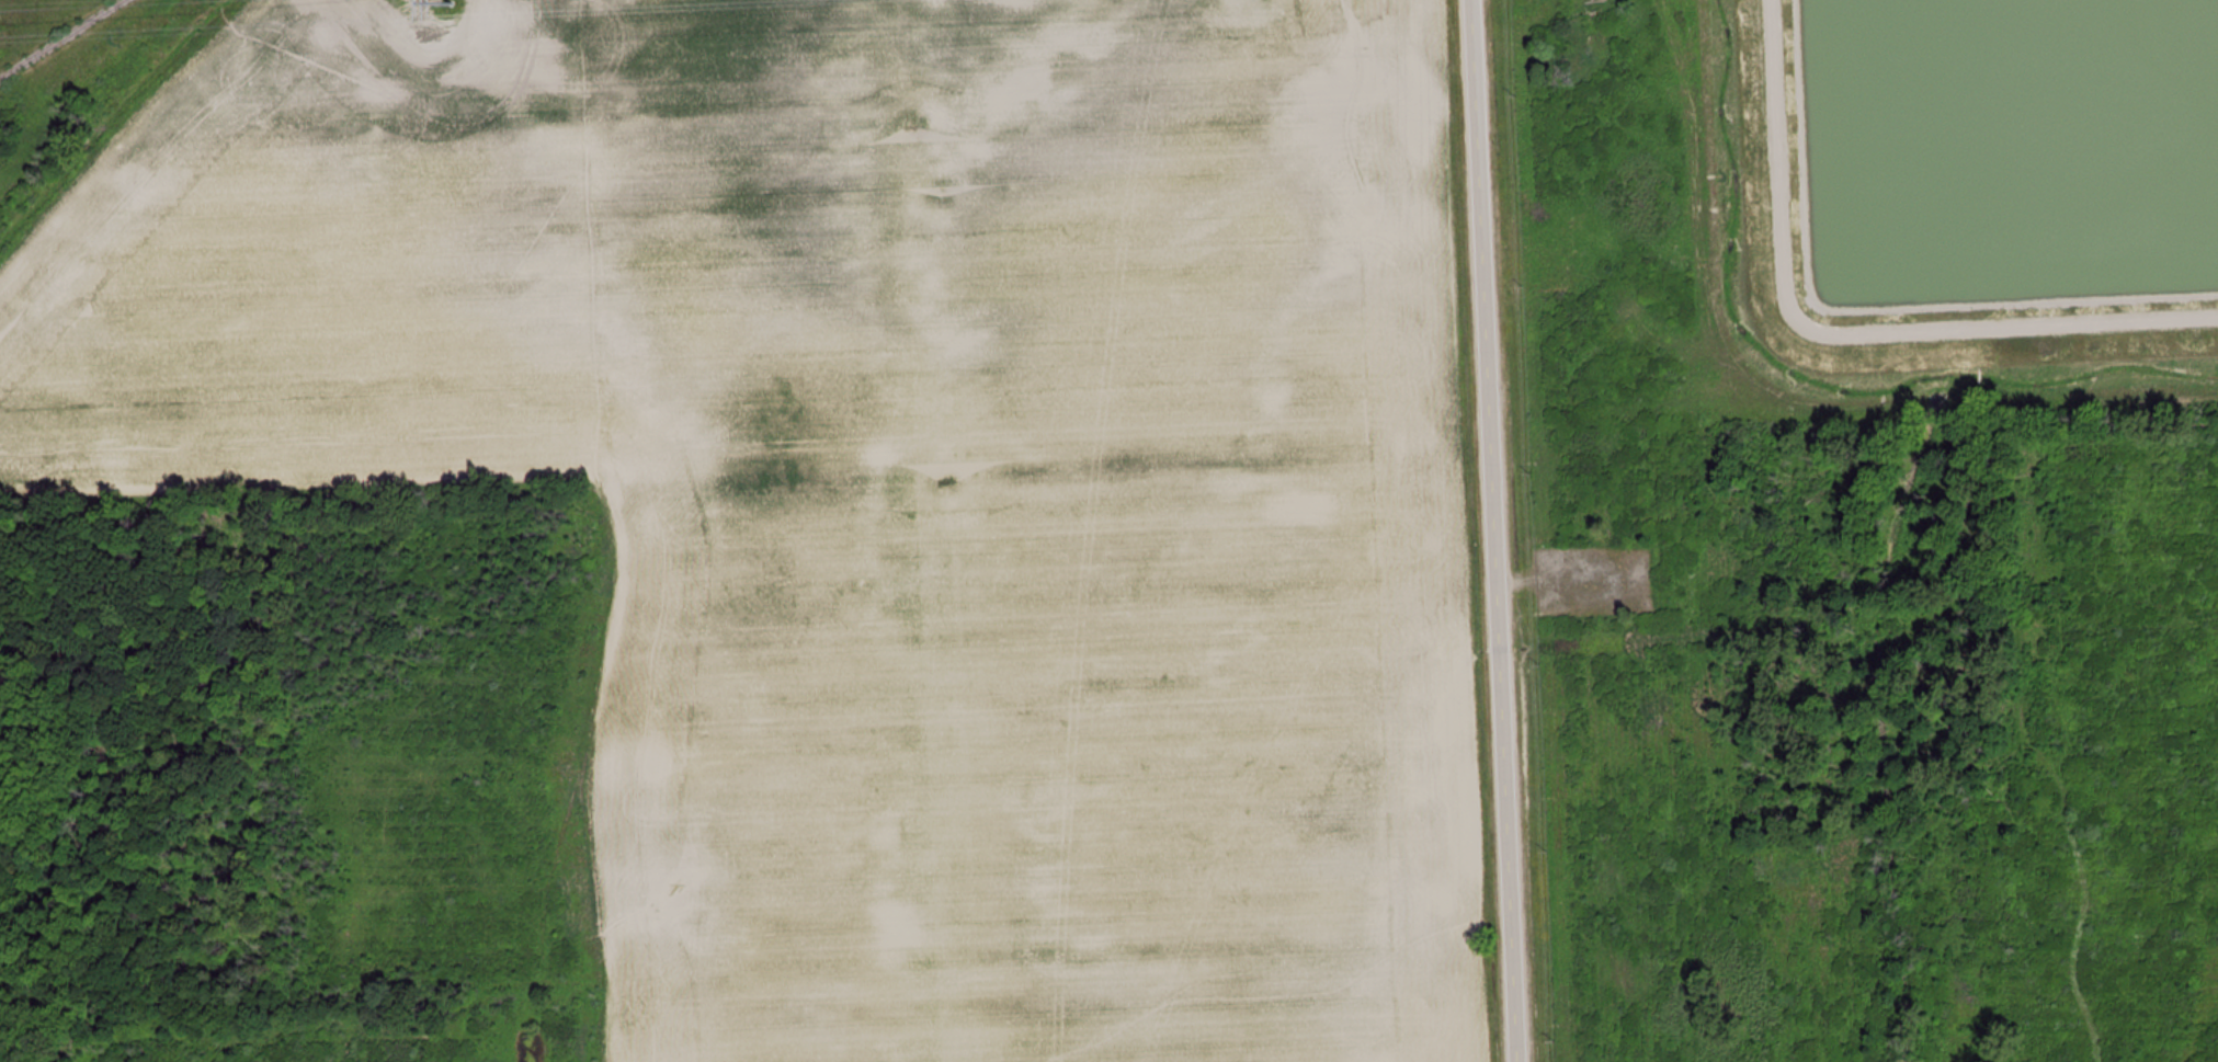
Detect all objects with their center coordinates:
power tower: (453, 5)
railway: (55, 35)
road: (1495, 530)

